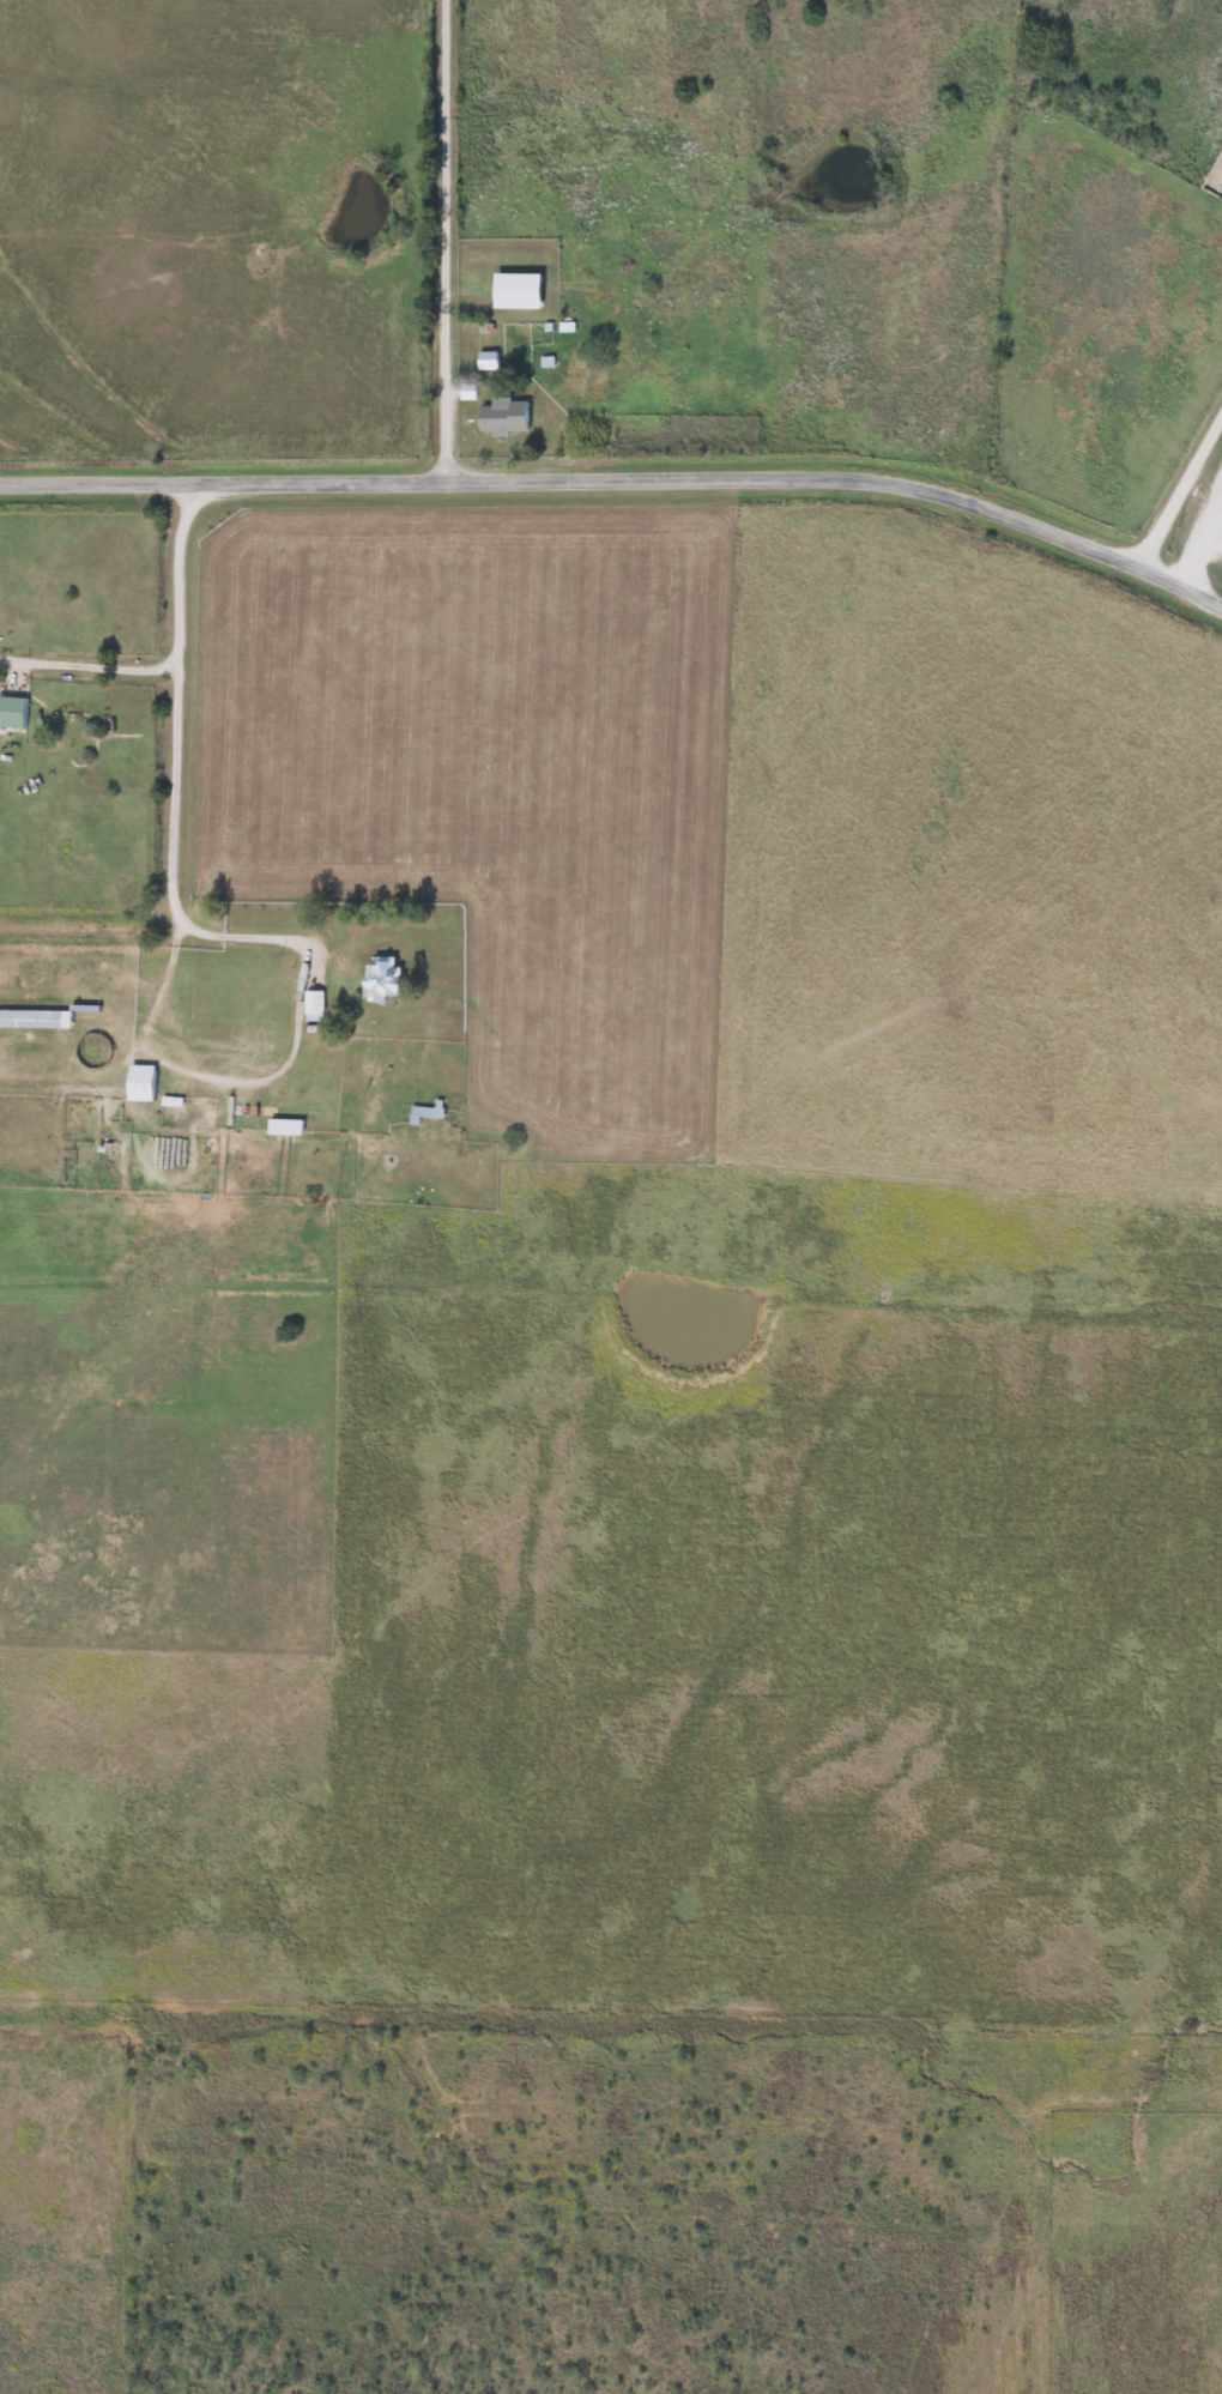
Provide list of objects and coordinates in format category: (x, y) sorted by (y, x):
road: (447, 240)
building: (514, 290)
building: (501, 416)
road: (622, 479)
road: (1178, 486)
road: (92, 669)
building: (12, 712)
road: (174, 769)
building: (381, 980)
building: (311, 1005)
building: (34, 1018)
building: (138, 1082)
building: (427, 1112)
building: (283, 1126)

